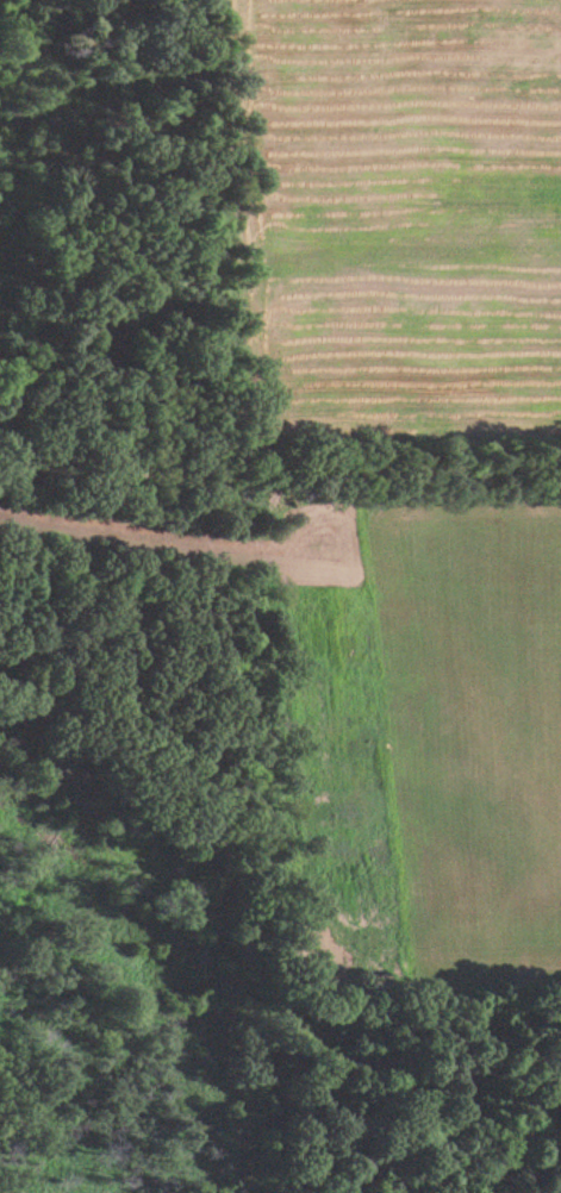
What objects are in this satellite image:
crop: (395, 211)
crop: (429, 738)

